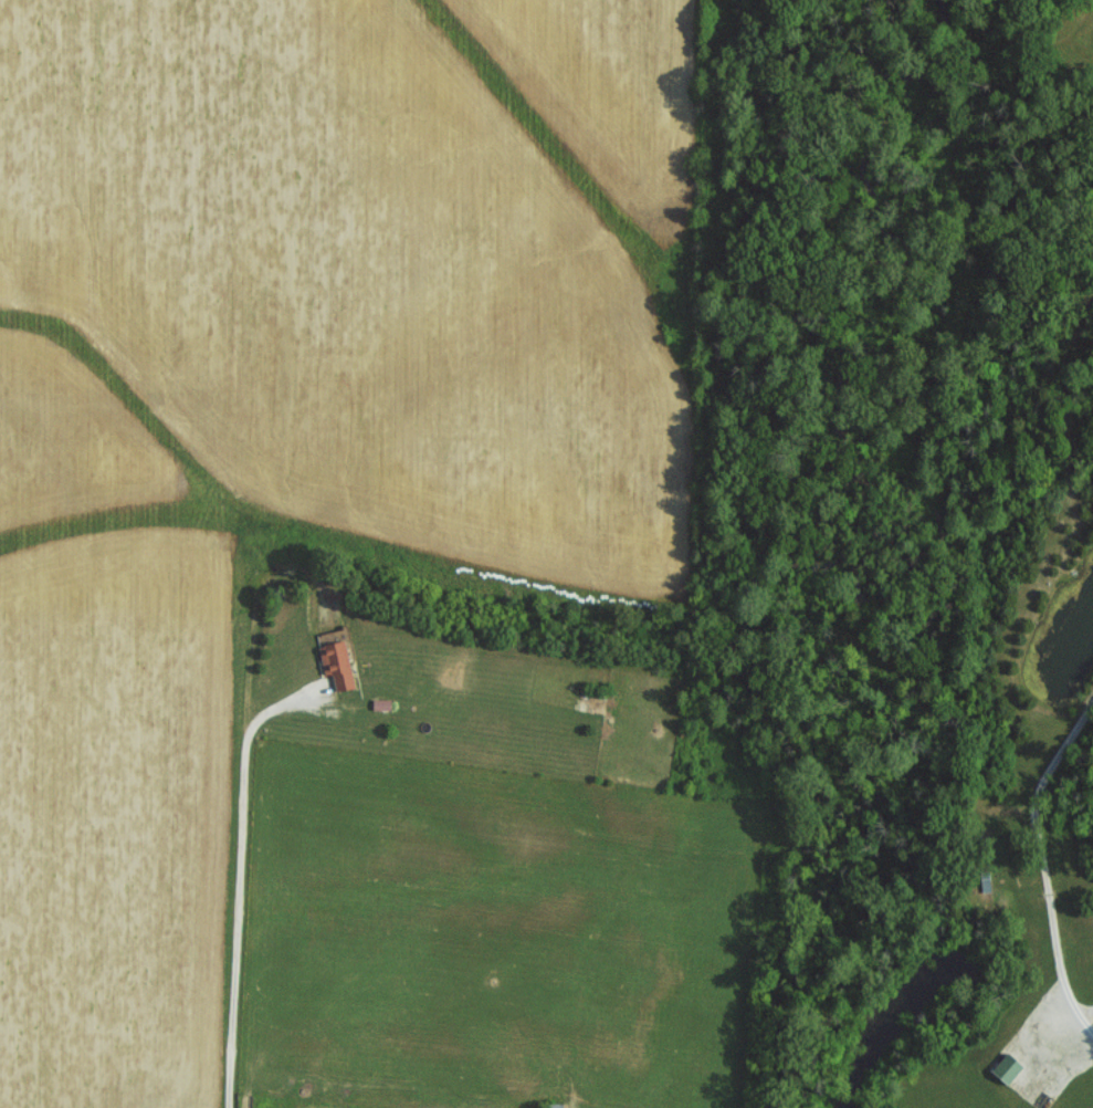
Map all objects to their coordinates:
building: (334, 663)
road: (1045, 861)
road: (242, 890)
road: (1092, 1013)
building: (551, 1105)

